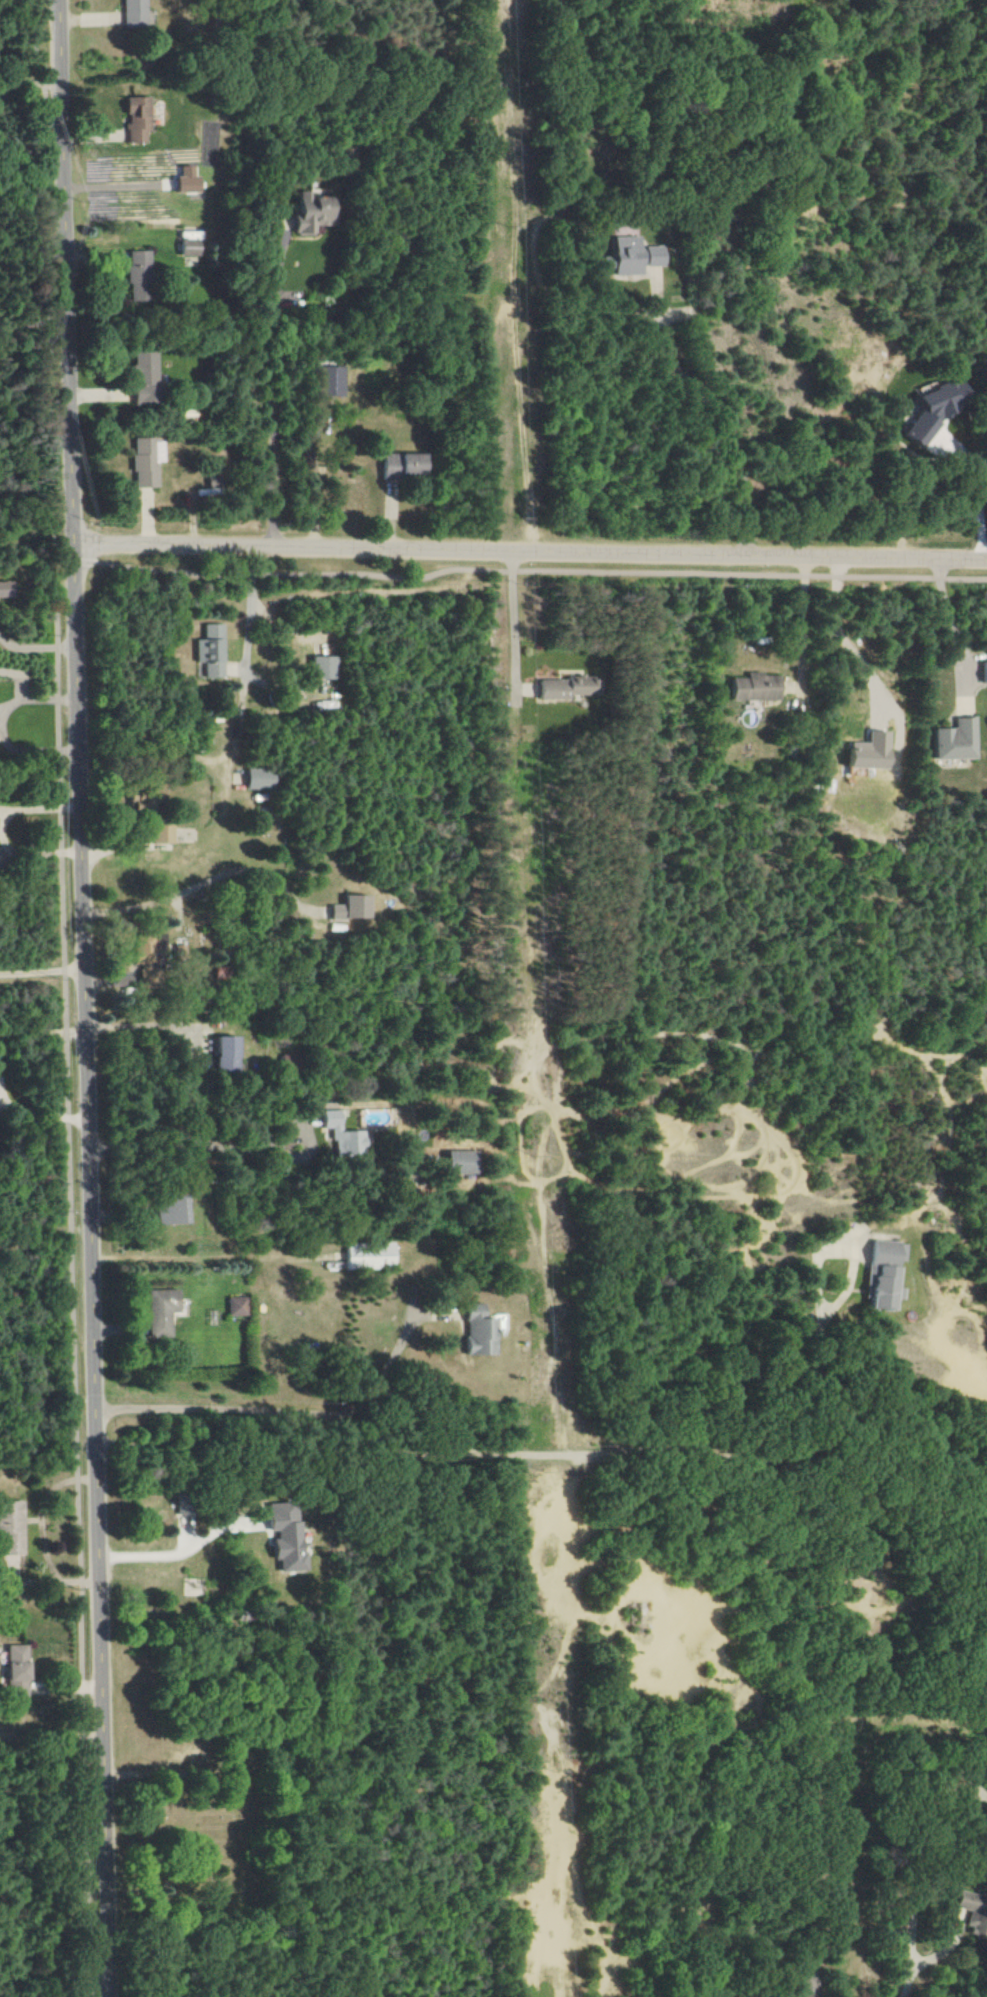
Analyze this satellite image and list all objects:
building: (132, 12)
road: (32, 86)
building: (134, 118)
building: (184, 180)
building: (306, 212)
building: (187, 244)
building: (630, 256)
building: (136, 275)
building: (142, 378)
building: (329, 381)
road: (268, 394)
building: (927, 412)
road: (720, 418)
building: (144, 461)
building: (396, 464)
road: (970, 501)
road: (531, 555)
building: (6, 589)
road: (514, 618)
road: (804, 619)
road: (956, 620)
road: (248, 625)
road: (847, 635)
road: (36, 647)
building: (208, 650)
building: (318, 667)
building: (982, 672)
building: (752, 687)
building: (559, 688)
building: (952, 741)
building: (862, 752)
building: (255, 778)
building: (158, 834)
road: (197, 886)
building: (349, 908)
building: (145, 948)
building: (178, 953)
road: (43, 968)
road: (65, 997)
road: (87, 998)
road: (137, 1026)
road: (42, 1032)
building: (224, 1054)
road: (39, 1111)
building: (340, 1134)
road: (187, 1135)
building: (457, 1163)
building: (168, 1211)
building: (368, 1255)
building: (881, 1274)
building: (234, 1307)
building: (159, 1311)
building: (478, 1329)
road: (285, 1412)
road: (527, 1454)
building: (11, 1527)
road: (41, 1531)
building: (283, 1536)
road: (183, 1550)
building: (13, 1670)
park: (204, 1775)
road: (914, 1881)
building: (971, 1911)
building: (806, 1984)

